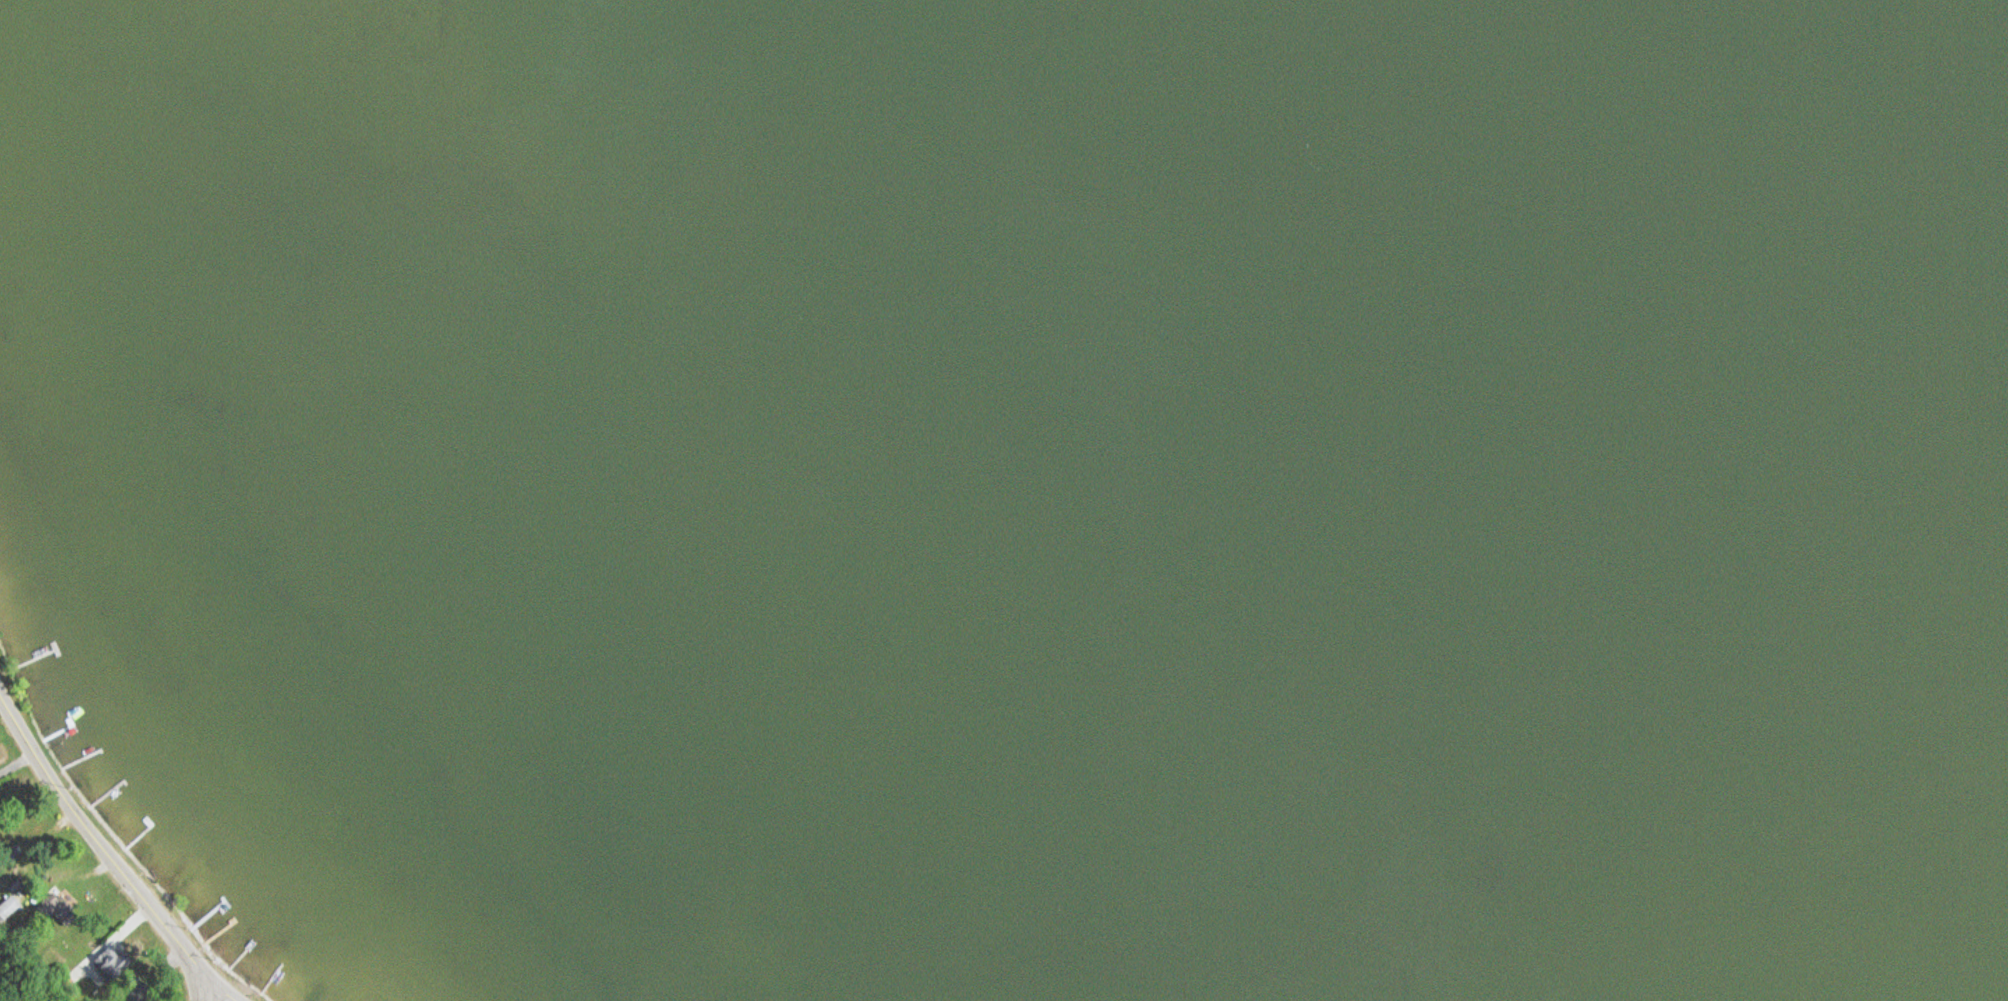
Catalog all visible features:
road: (98, 843)
building: (7, 909)
road: (207, 991)
road: (221, 991)

